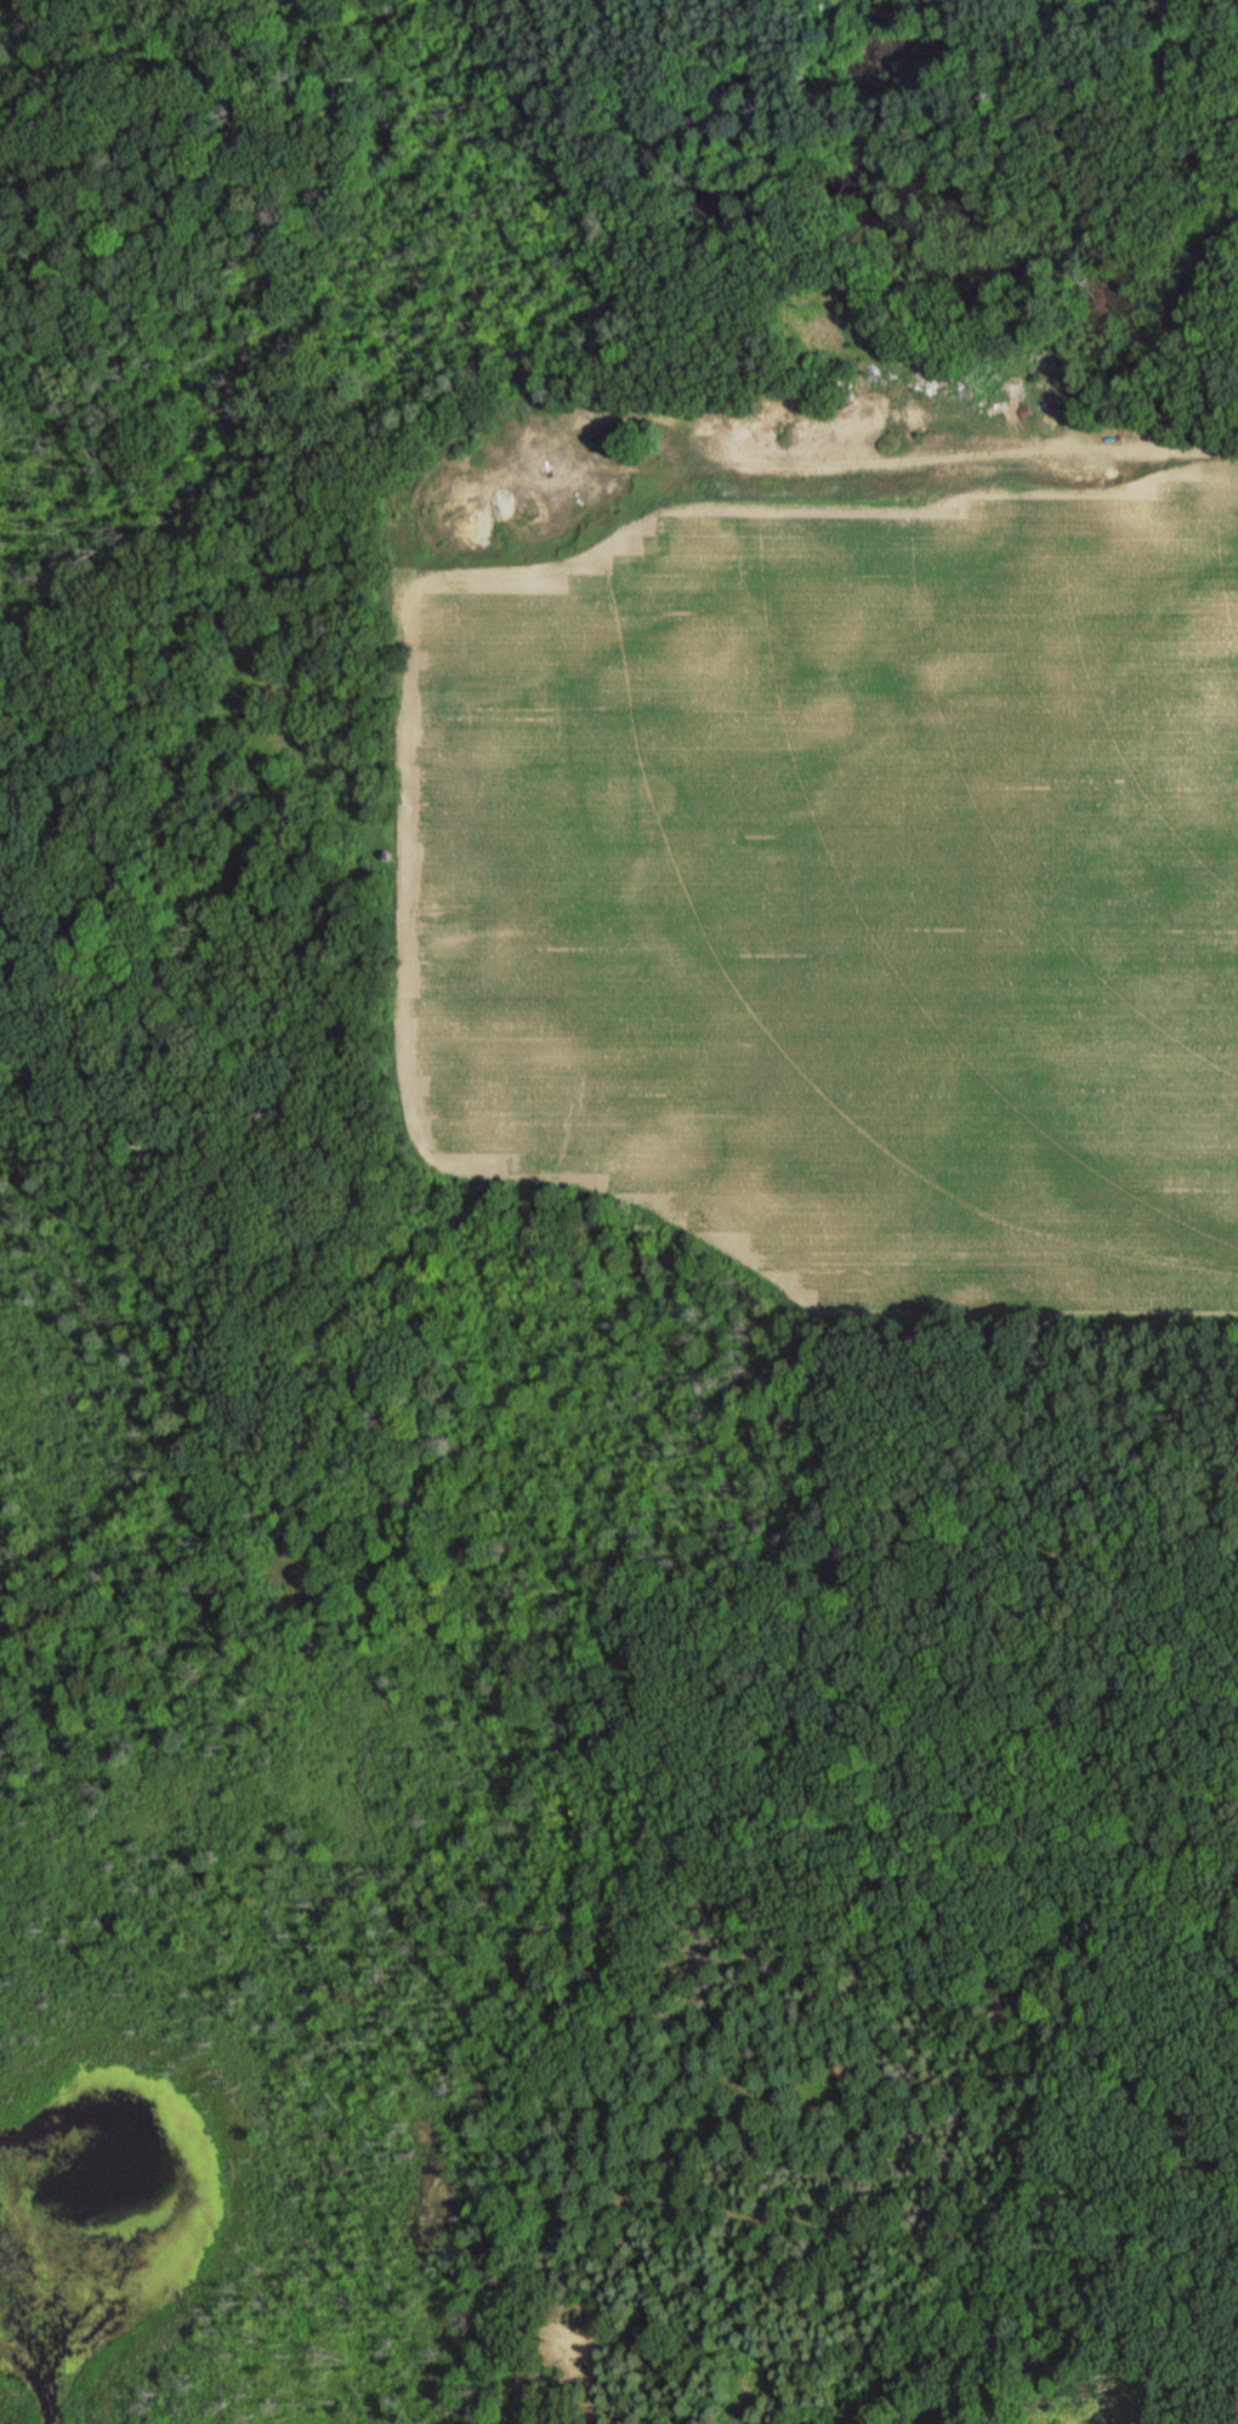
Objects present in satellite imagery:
road: (973, 422)

